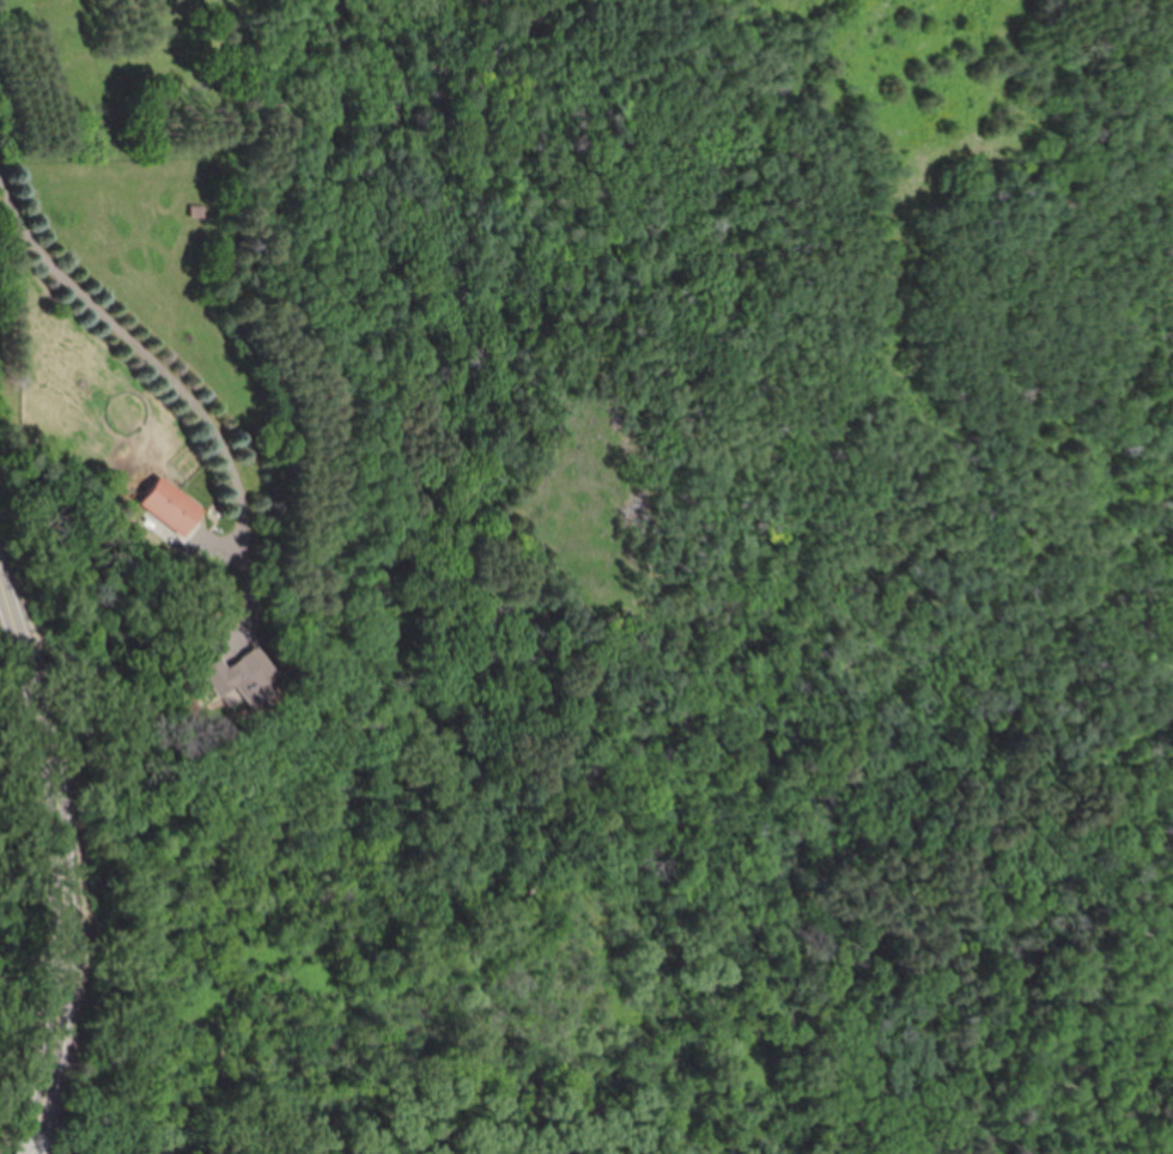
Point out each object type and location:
road: (1160, 43)
road: (160, 373)
building: (174, 506)
park: (744, 650)
building: (253, 676)
road: (60, 806)
road: (515, 880)
road: (41, 1103)

